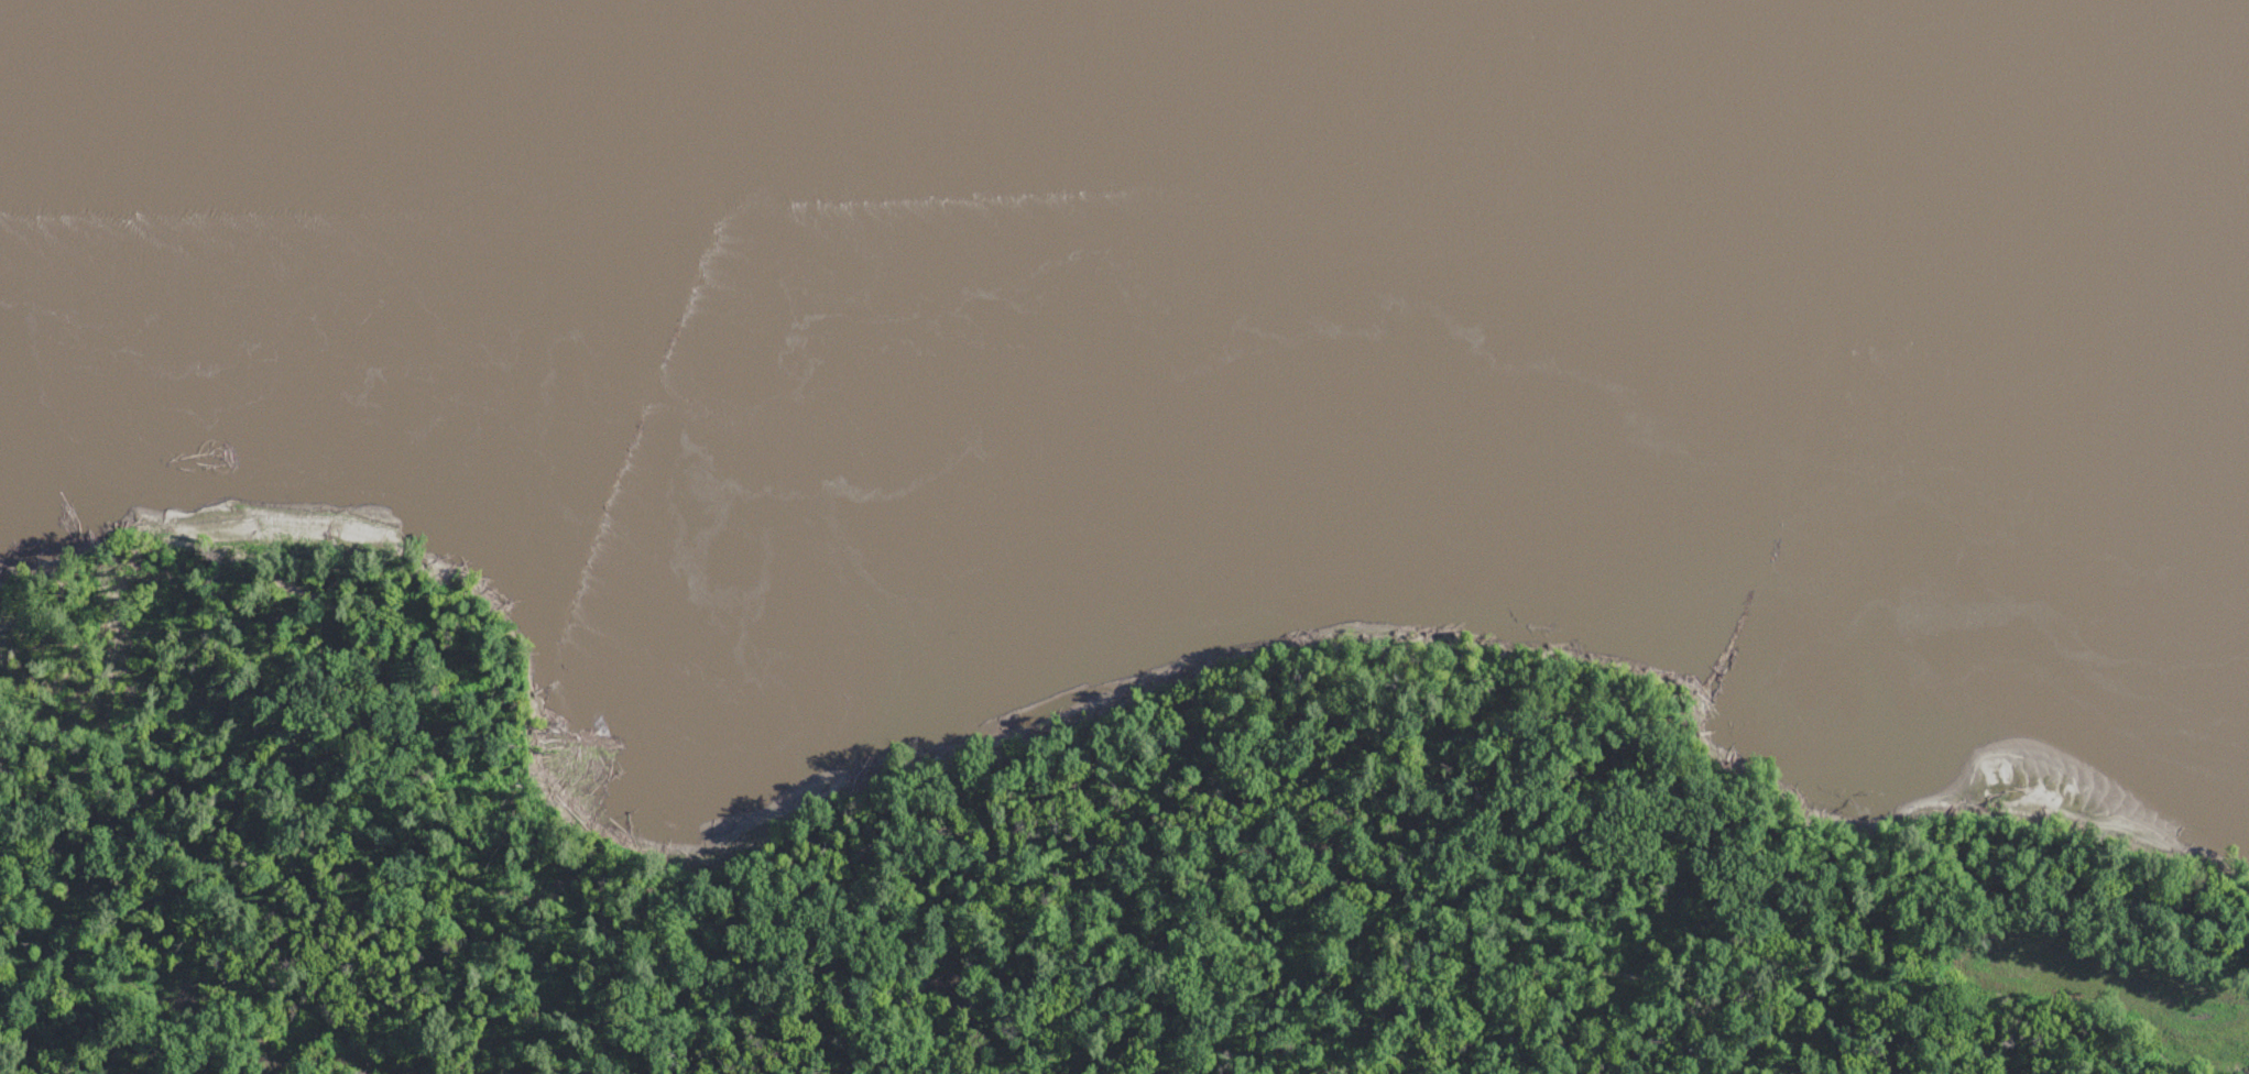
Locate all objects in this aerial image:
river: (1143, 167)

